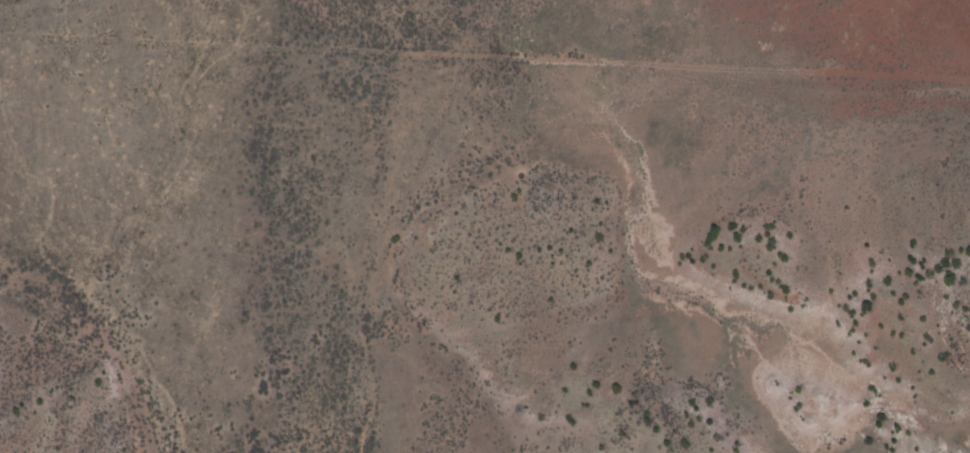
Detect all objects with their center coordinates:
road: (484, 96)

